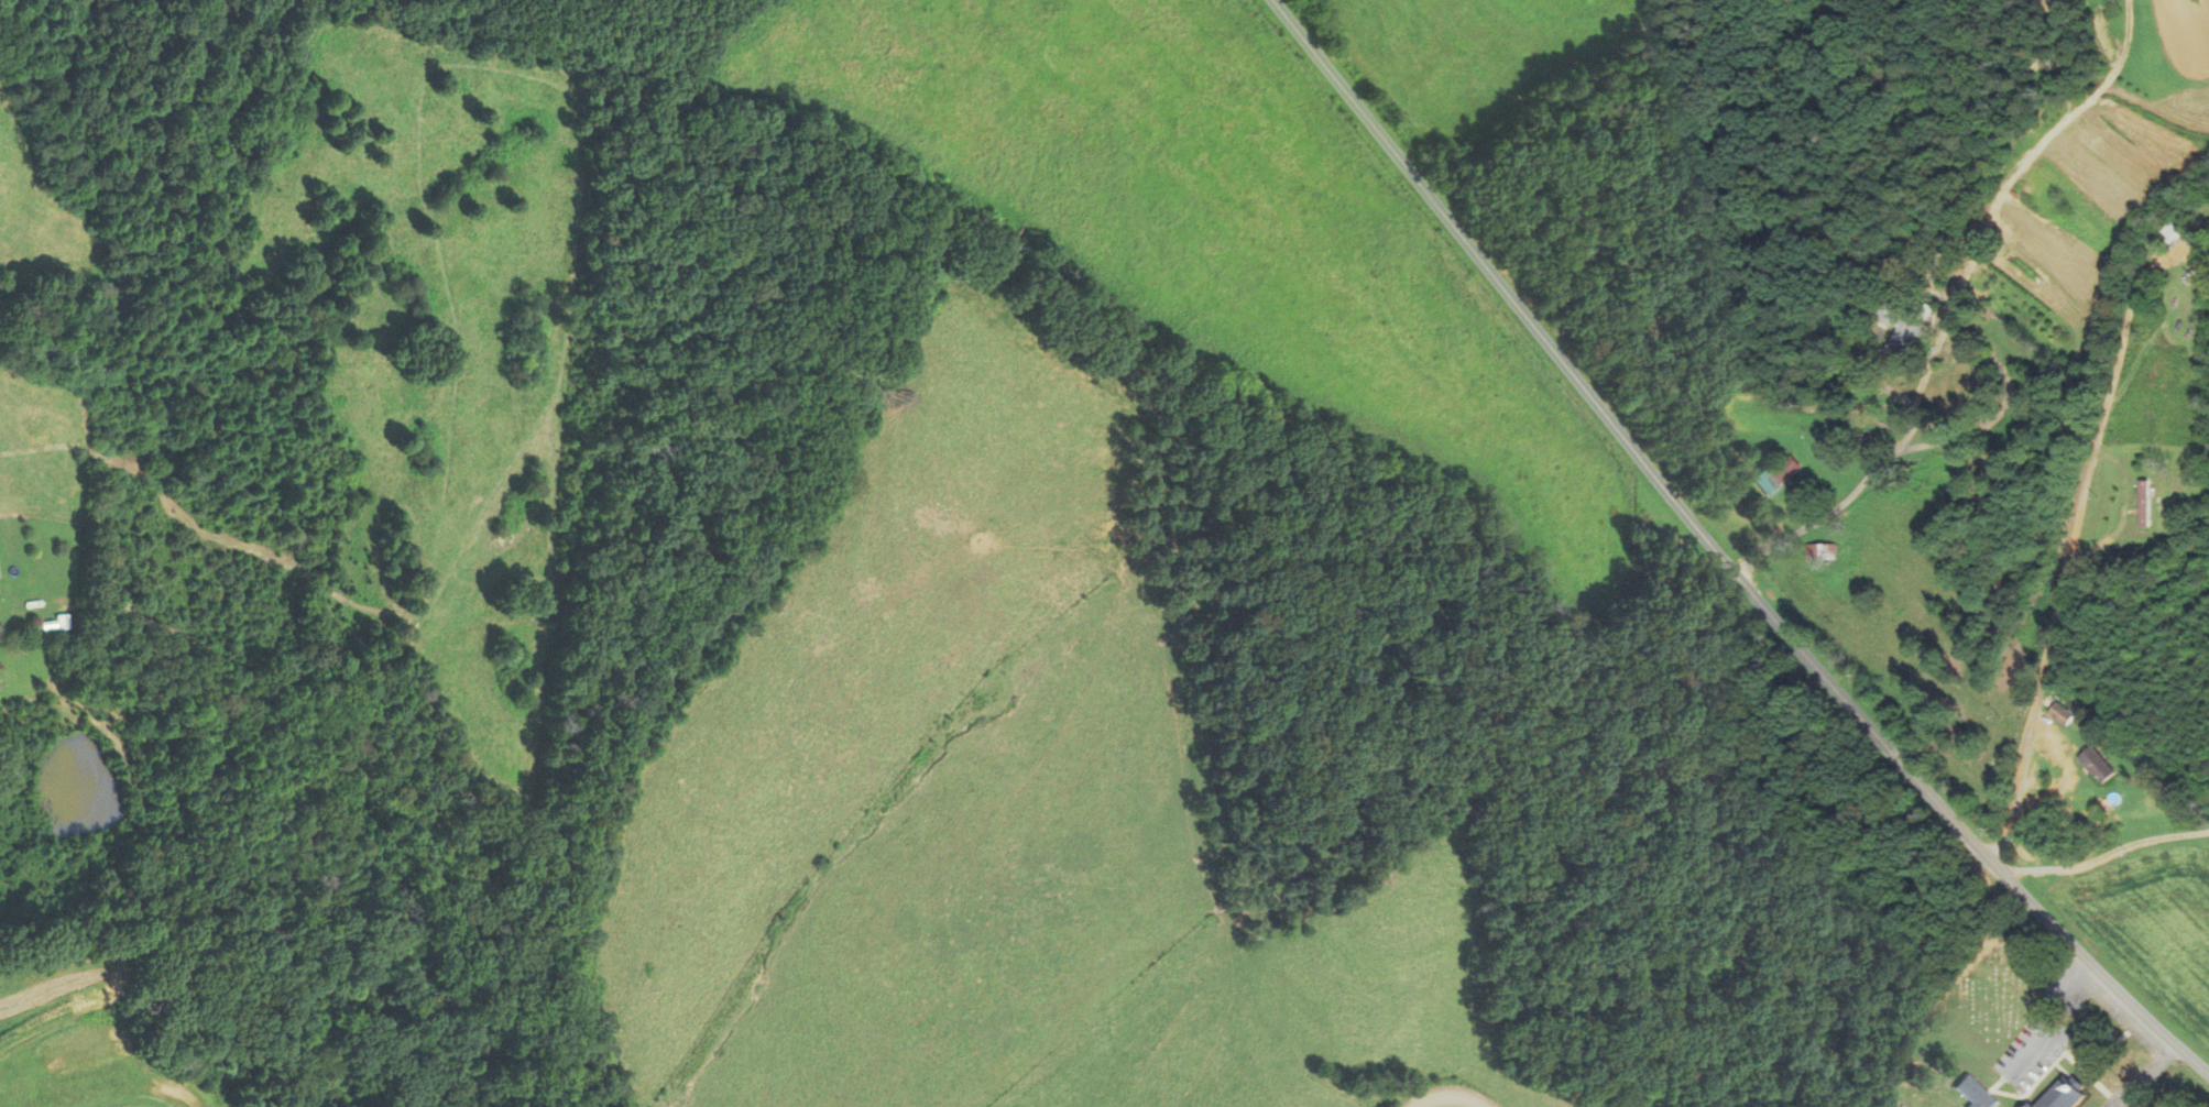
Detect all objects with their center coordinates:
road: (2011, 175)
building: (2169, 232)
road: (2144, 273)
building: (1904, 339)
road: (1589, 406)
road: (1873, 470)
building: (1773, 476)
building: (2142, 503)
building: (1816, 551)
road: (2060, 596)
building: (2062, 714)
building: (2096, 765)
road: (2108, 854)
road: (2067, 936)
building: (1972, 1094)
building: (2062, 1095)
road: (1441, 1097)
building: (2027, 1105)

